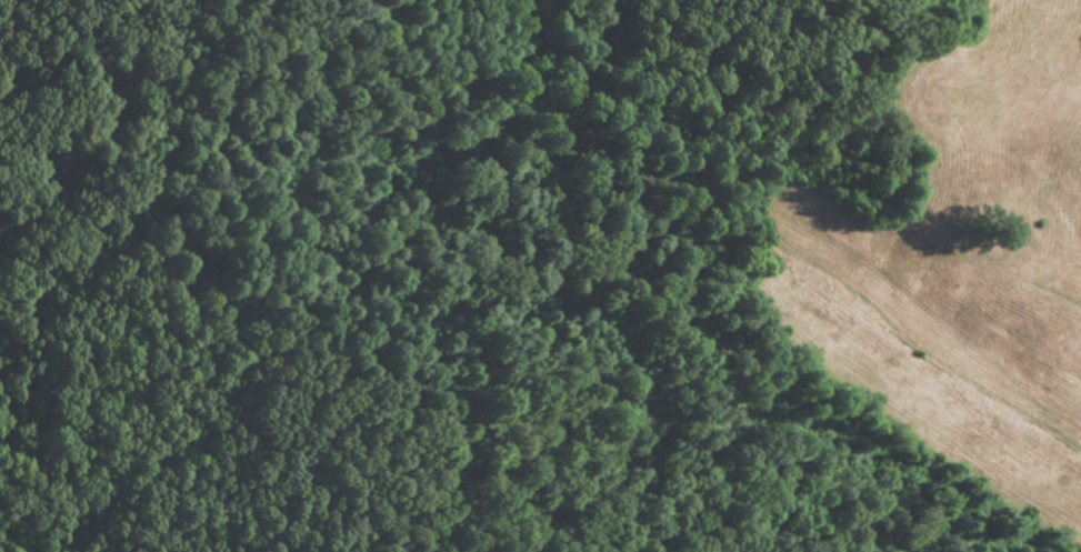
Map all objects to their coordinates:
road: (97, 129)

